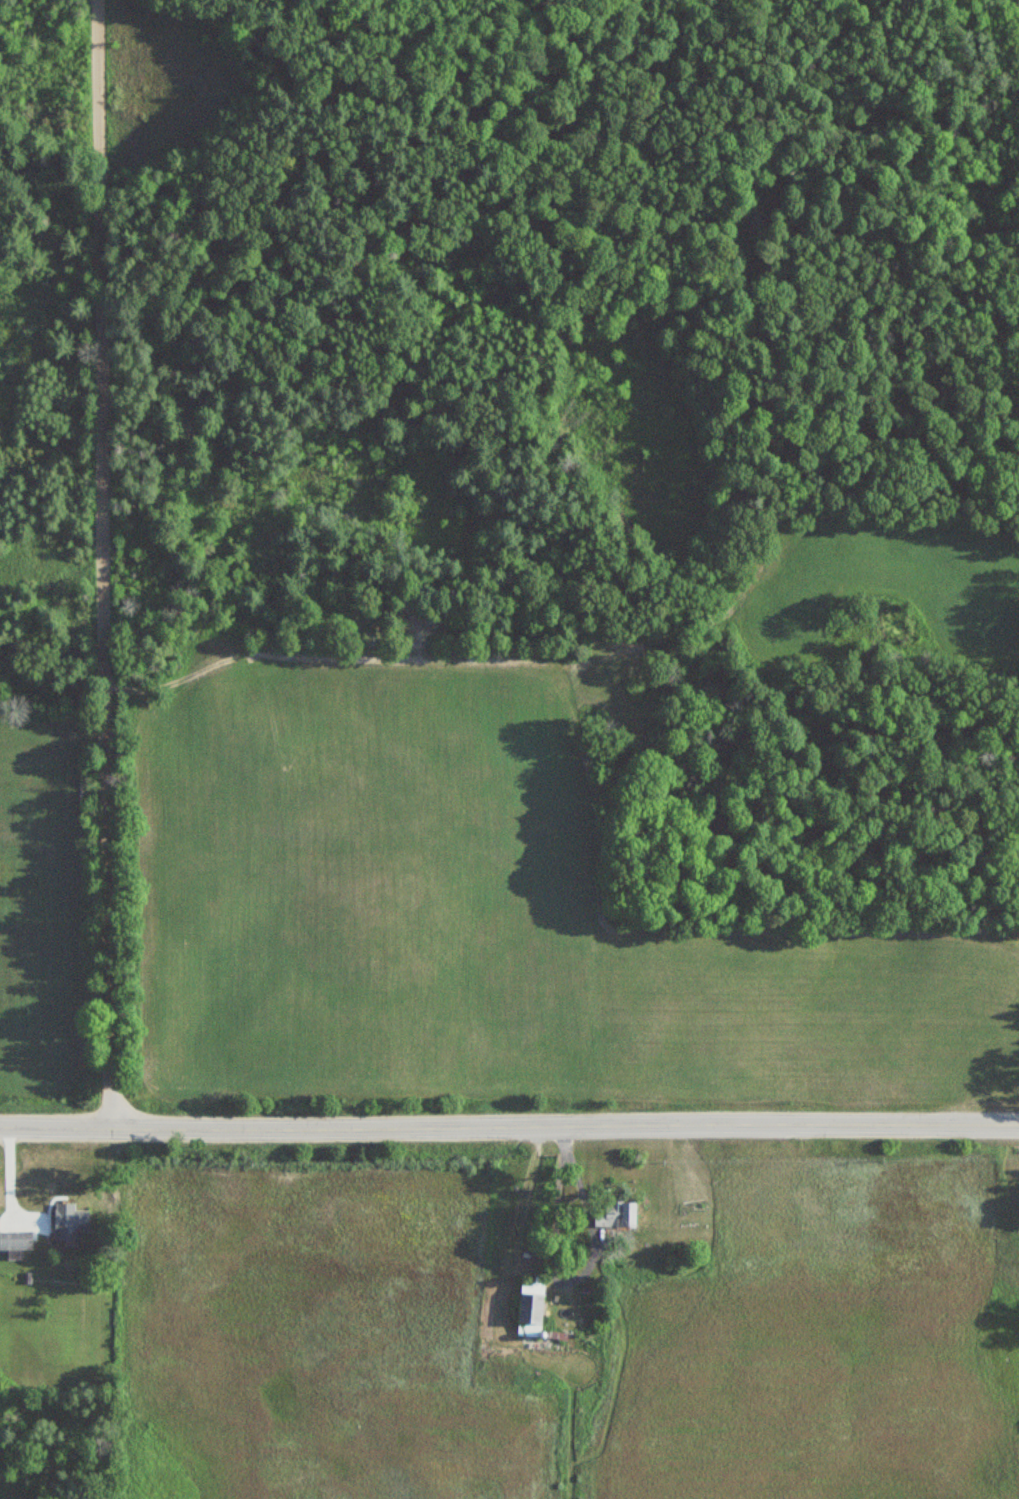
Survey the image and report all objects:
building: (749, 223)
road: (103, 563)
road: (509, 1127)
building: (69, 1224)
building: (15, 1240)
building: (530, 1309)

